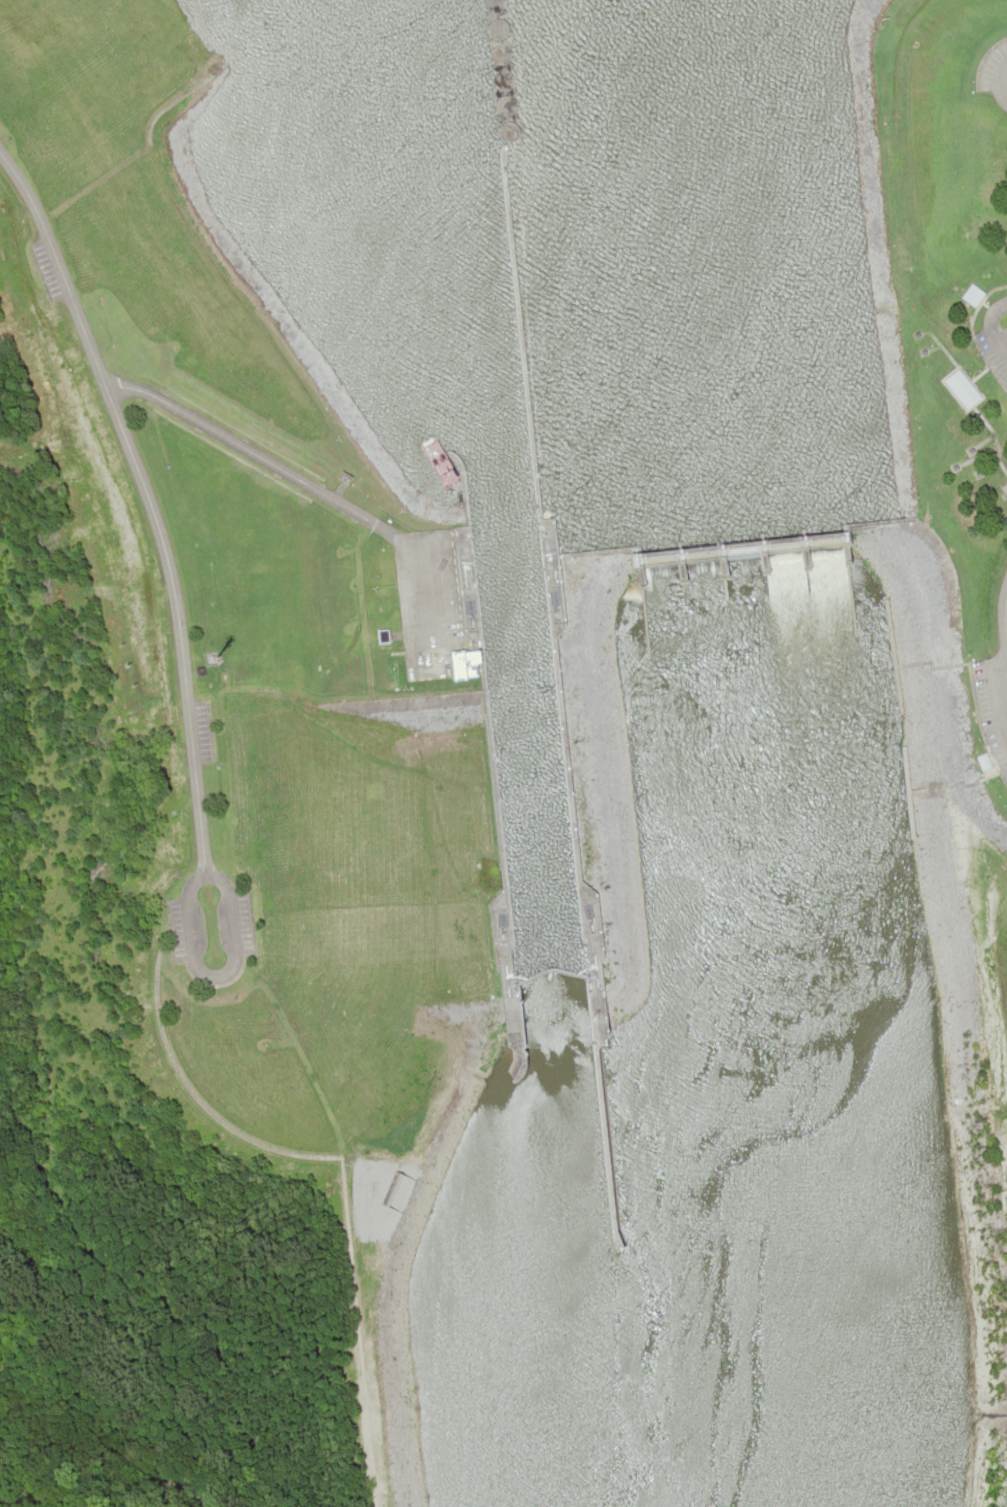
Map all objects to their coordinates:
river: (386, 85)
building: (972, 296)
park: (953, 310)
road: (987, 330)
parking lot: (994, 350)
building: (960, 389)
road: (253, 452)
road: (144, 499)
road: (1005, 607)
road: (1003, 616)
building: (383, 634)
building: (467, 661)
road: (1000, 712)
road: (230, 965)

